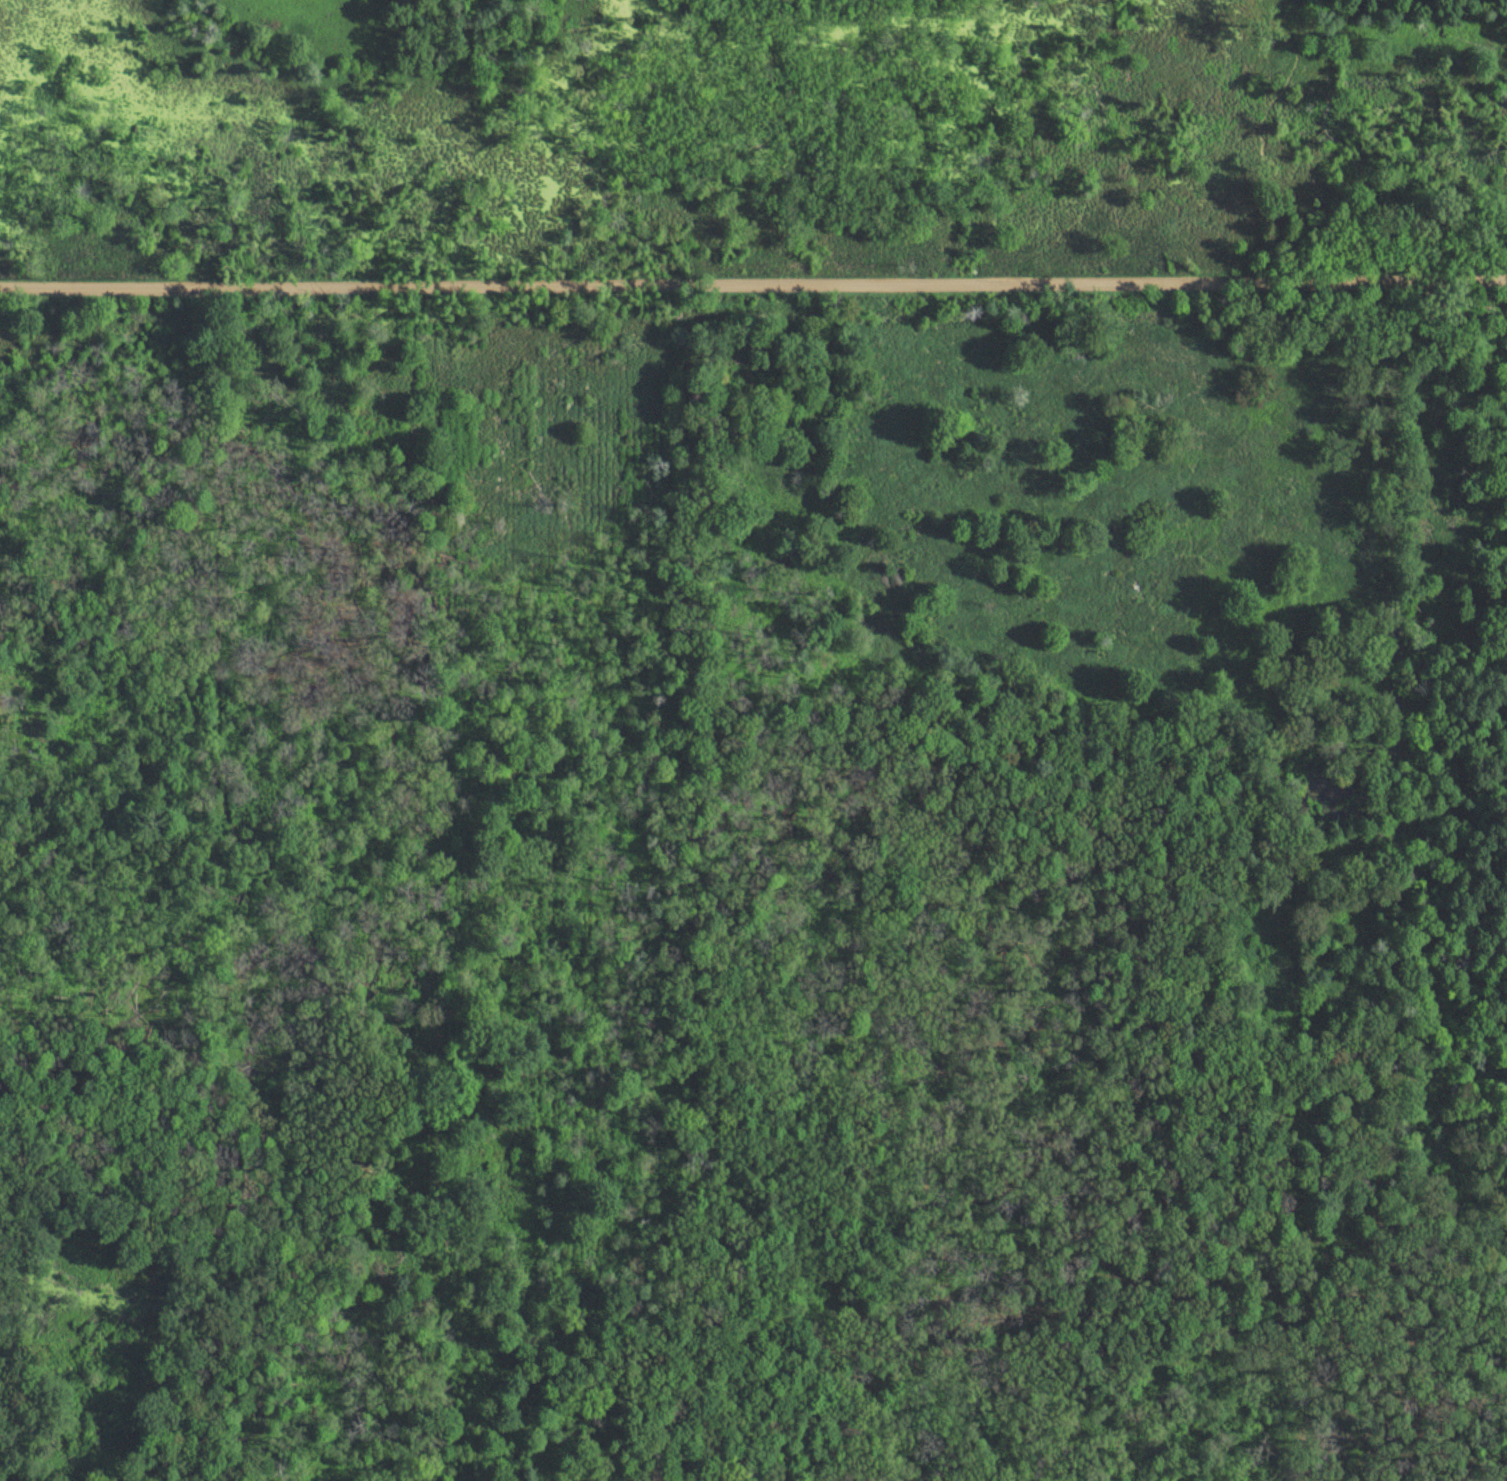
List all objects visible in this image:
road: (753, 285)

